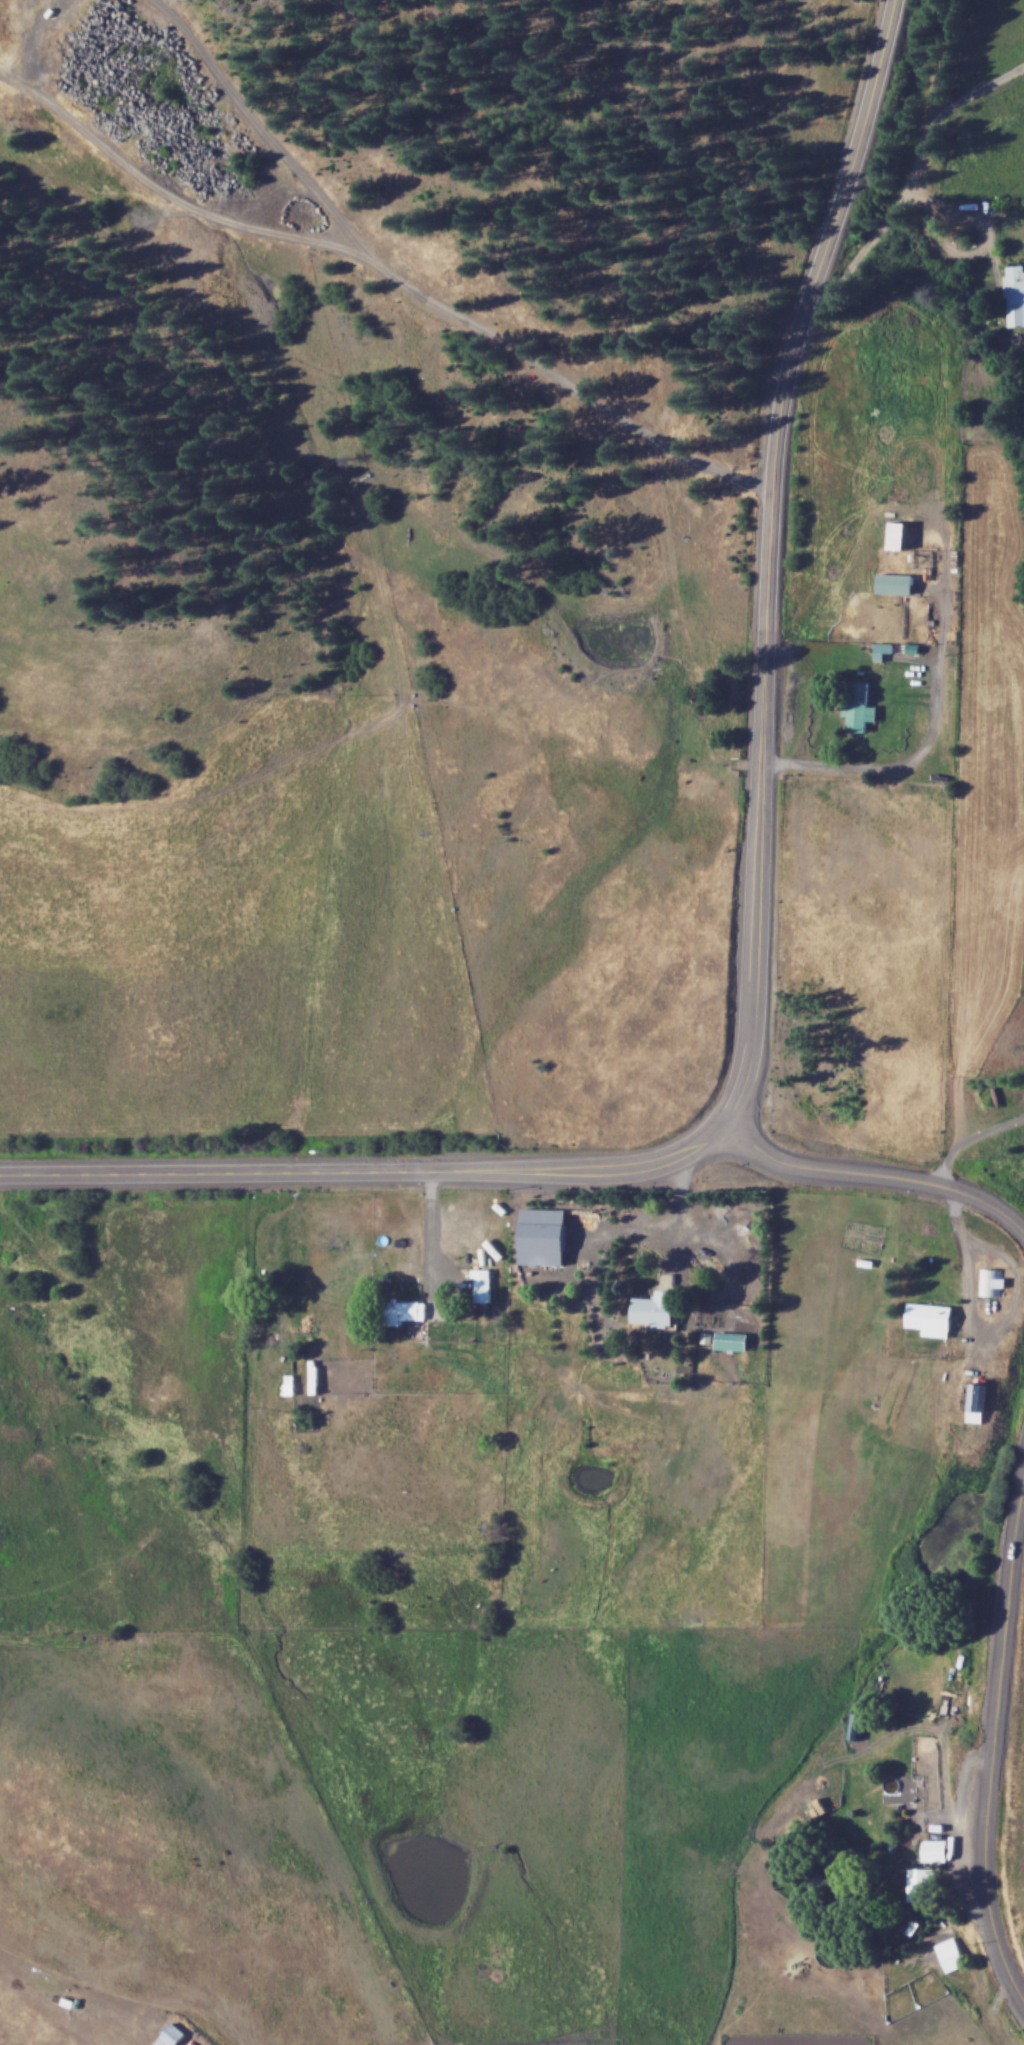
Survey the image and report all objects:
road: (257, 124)
road: (165, 187)
road: (901, 198)
building: (1015, 294)
road: (564, 373)
road: (770, 555)
building: (895, 583)
building: (883, 650)
building: (859, 707)
road: (922, 746)
road: (970, 1136)
road: (367, 1168)
road: (873, 1171)
road: (681, 1201)
road: (431, 1220)
building: (544, 1236)
road: (965, 1267)
building: (993, 1281)
building: (482, 1284)
building: (656, 1308)
building: (405, 1310)
building: (930, 1316)
building: (732, 1340)
building: (313, 1375)
building: (289, 1383)
building: (974, 1398)
road: (996, 1740)
building: (936, 1850)
building: (923, 1885)
building: (948, 1949)
building: (172, 2036)

